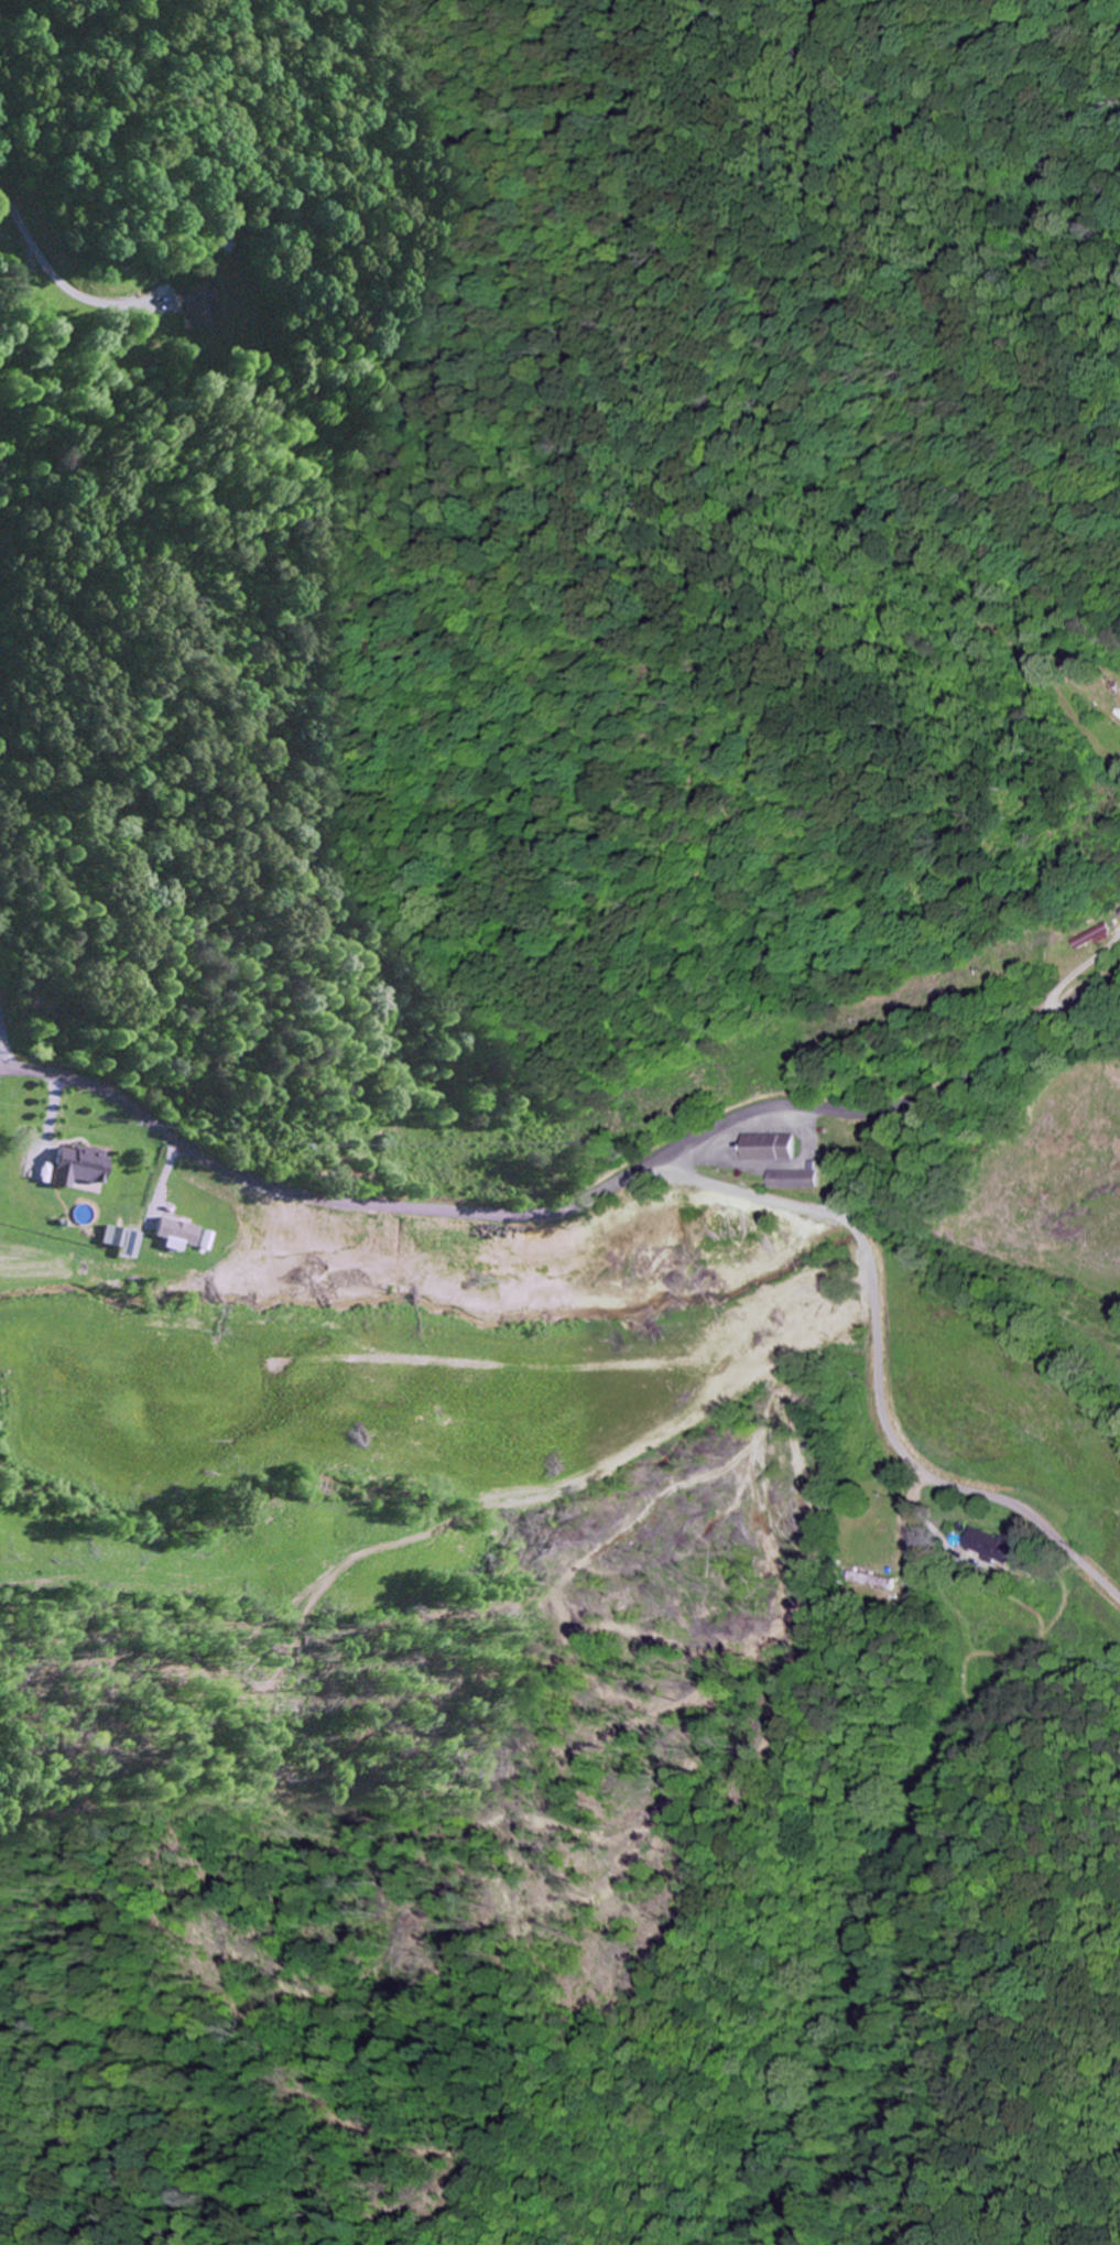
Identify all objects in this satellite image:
building: (196, 305)
building: (1101, 935)
road: (4, 1044)
road: (3, 1070)
building: (773, 1147)
building: (76, 1164)
building: (798, 1179)
road: (576, 1202)
building: (173, 1233)
building: (118, 1238)
road: (879, 1370)
building: (990, 1546)
building: (870, 1580)

